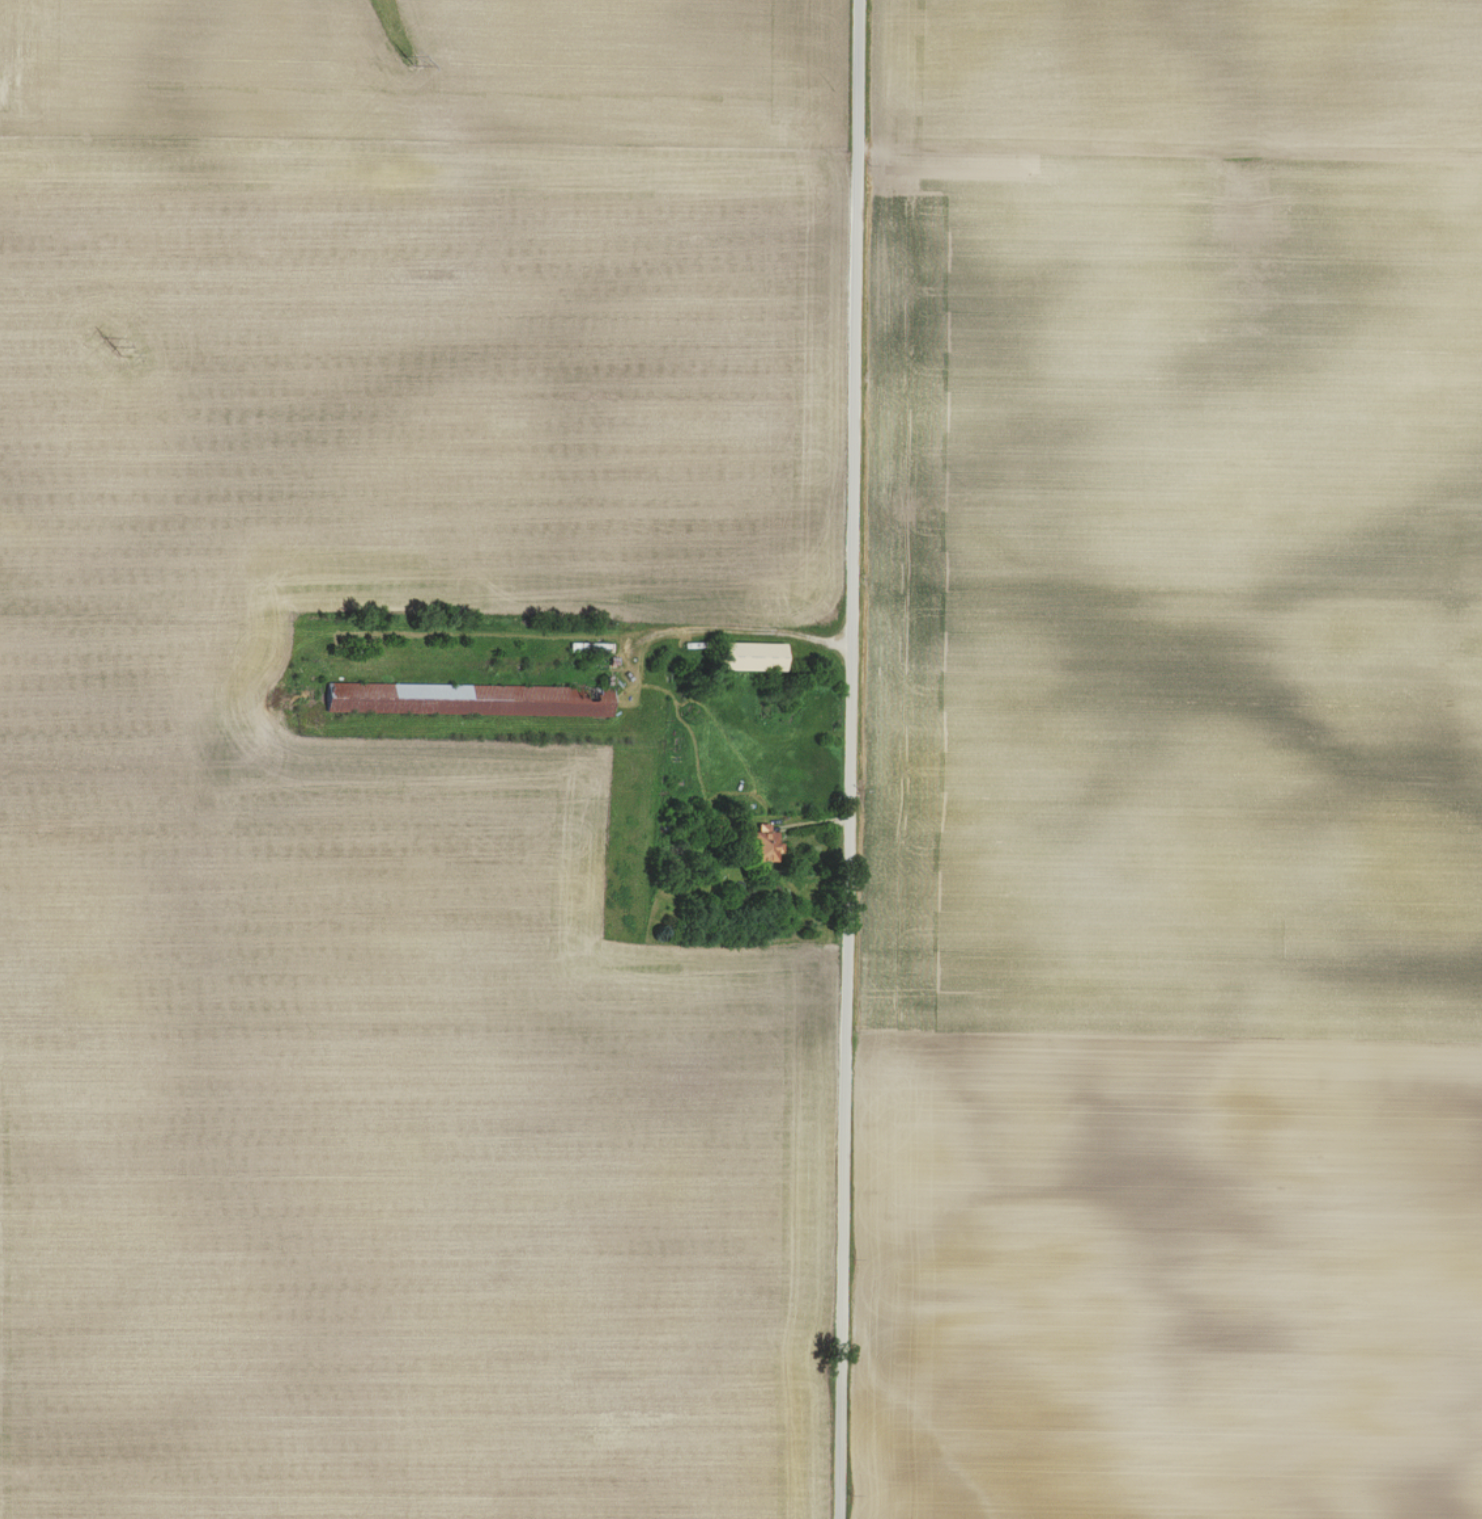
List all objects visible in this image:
power tower: (405, 61)
power tower: (109, 347)
building: (433, 697)
road: (849, 759)

